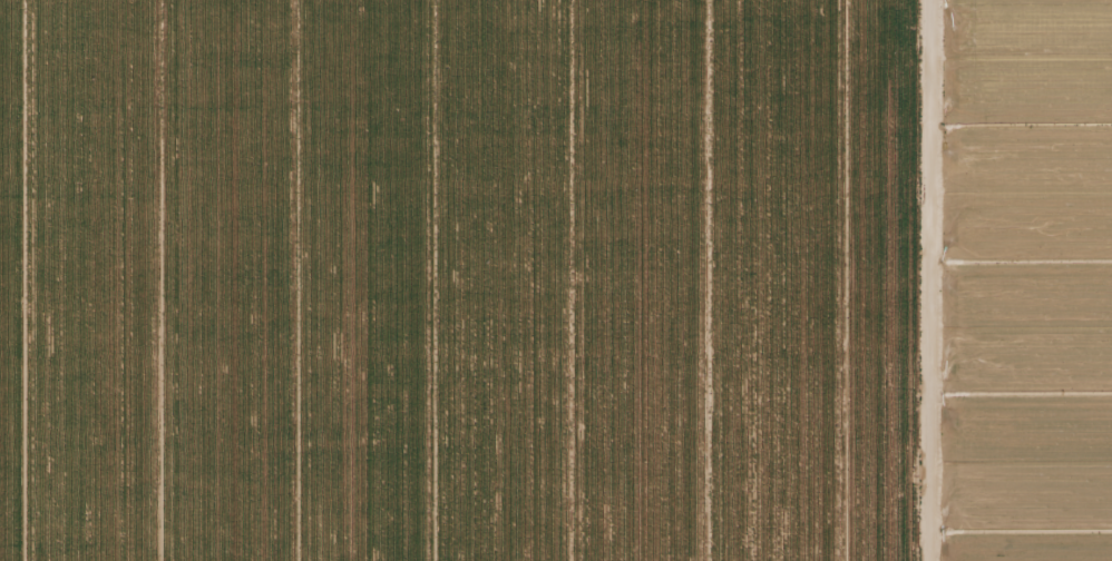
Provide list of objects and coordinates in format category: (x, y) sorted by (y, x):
road: (925, 280)

